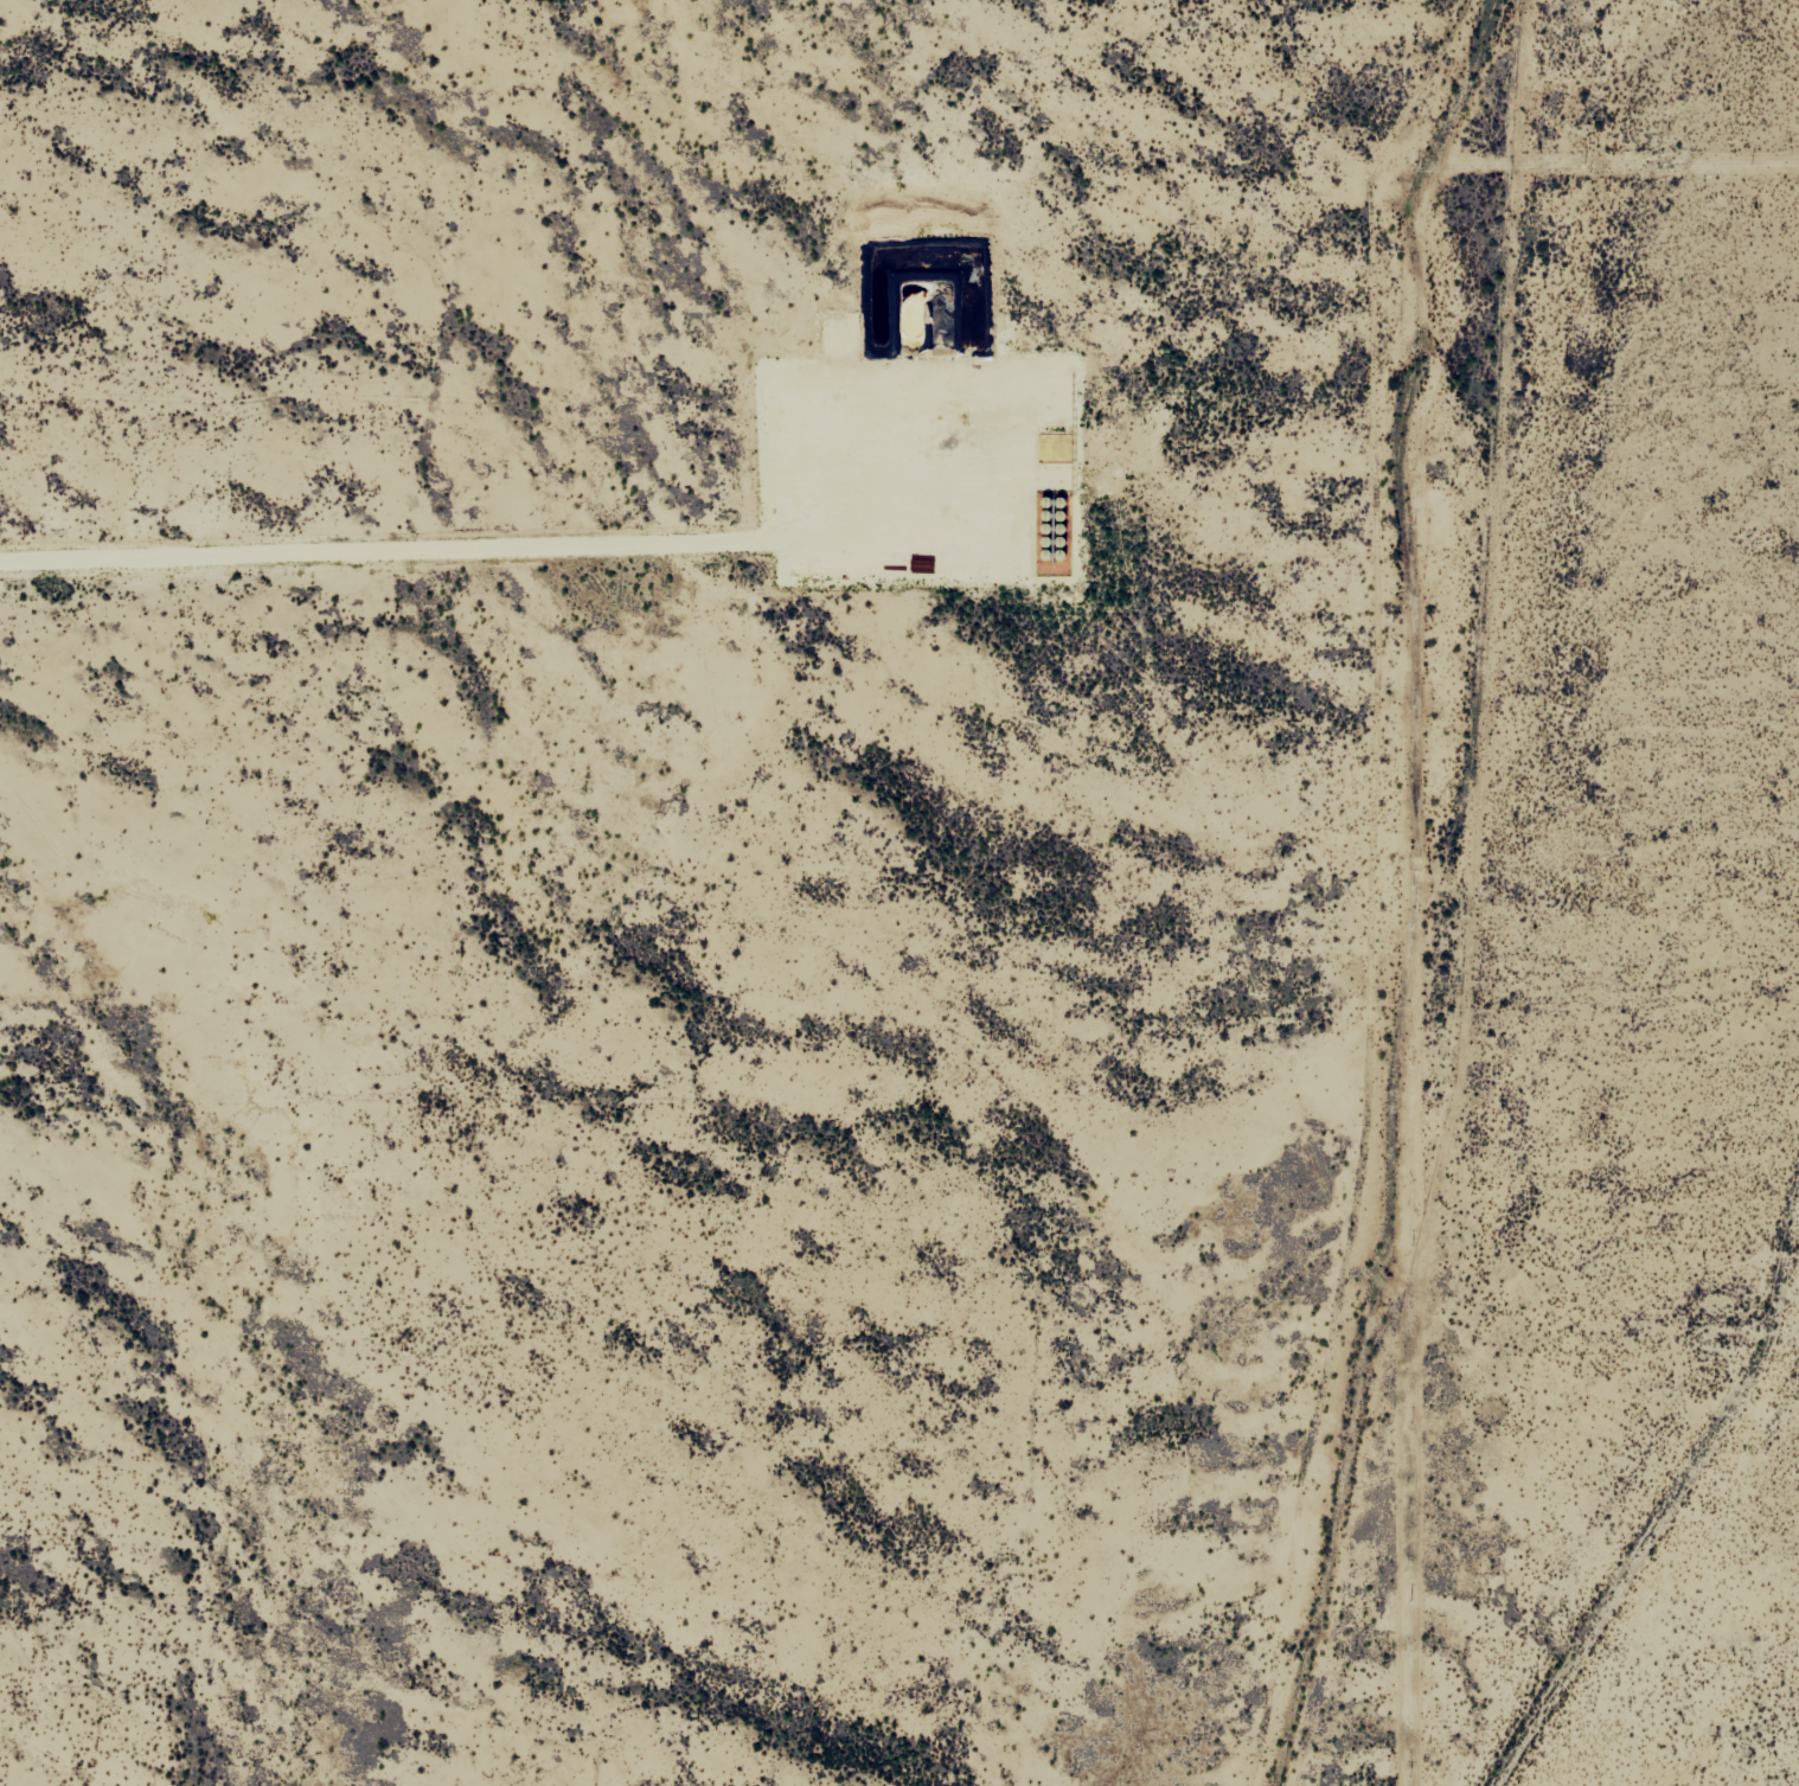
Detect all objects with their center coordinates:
road: (1712, 1551)

